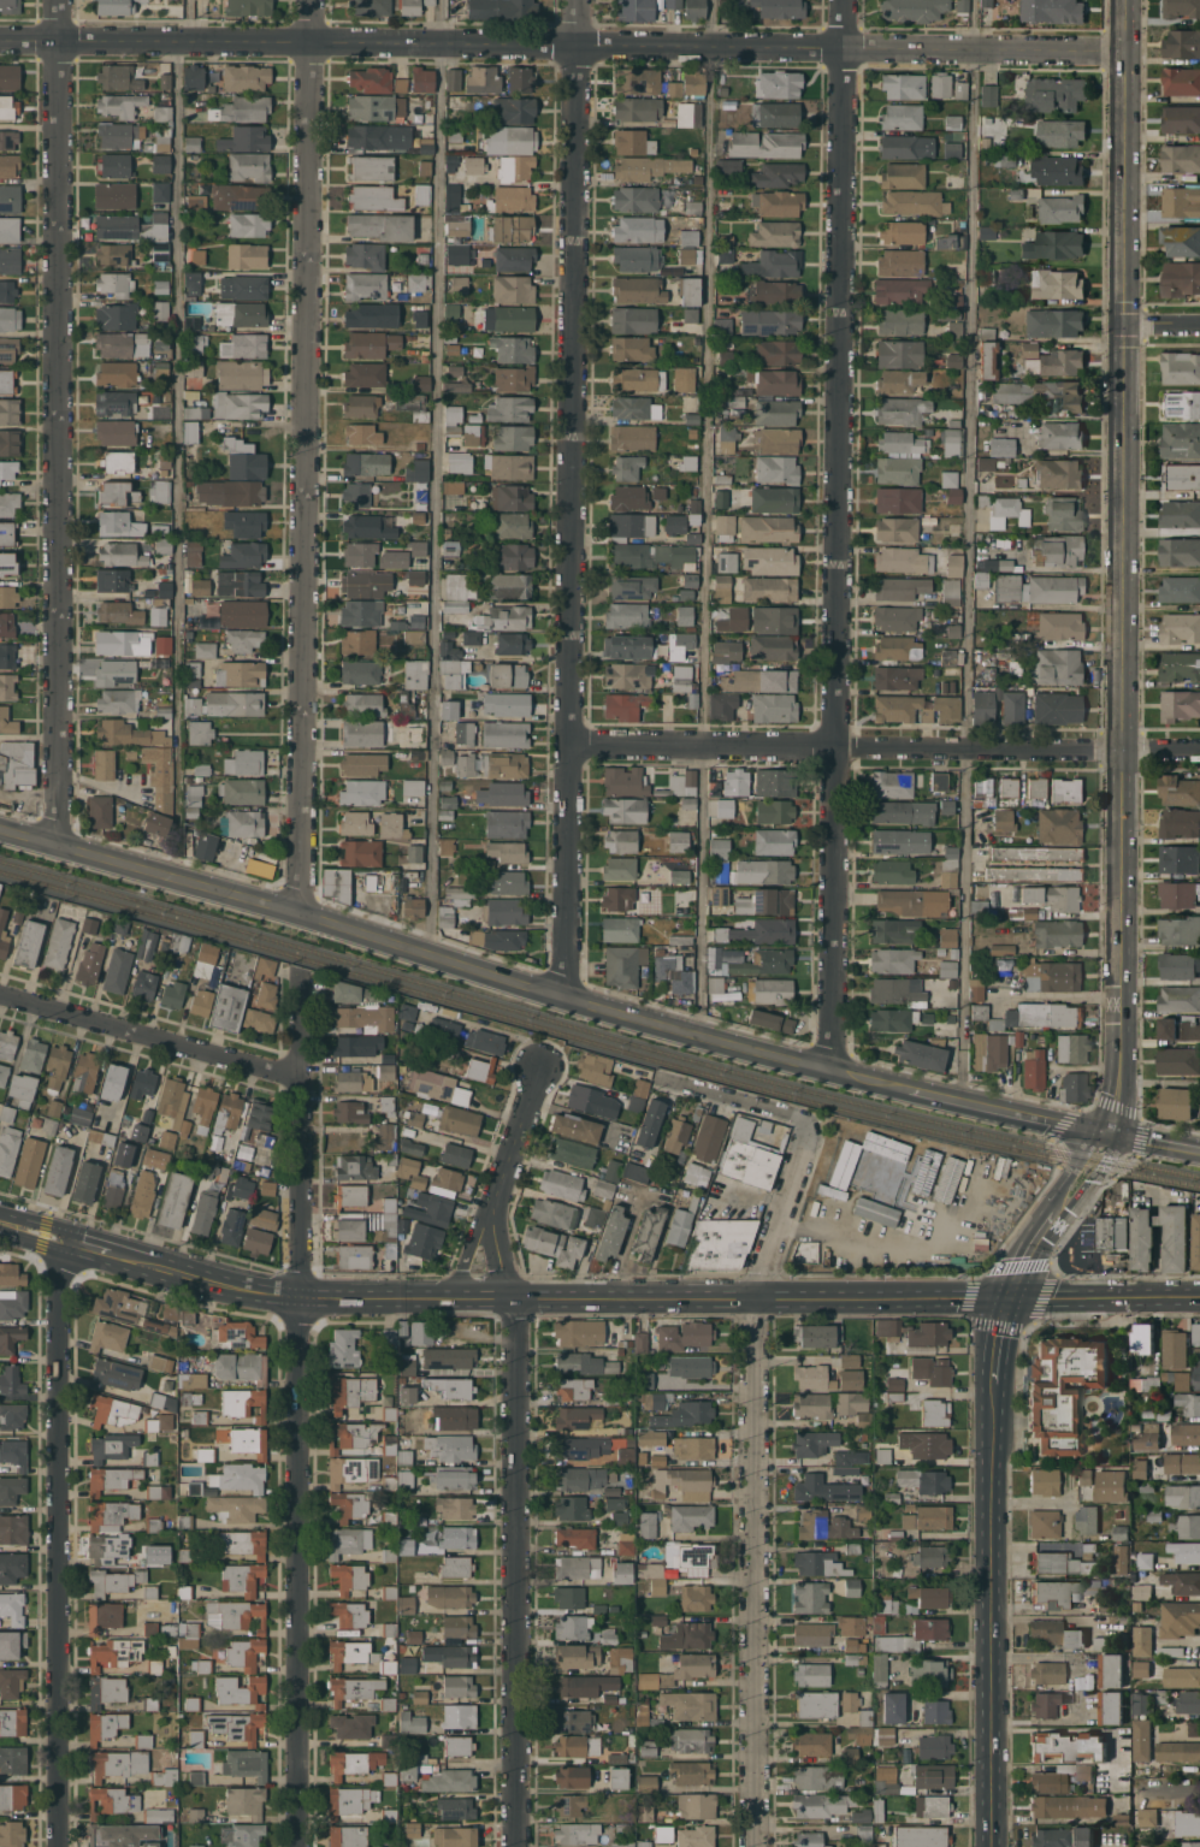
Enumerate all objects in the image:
building: (143, 0)
building: (428, 2)
building: (669, 4)
building: (678, 4)
building: (987, 4)
building: (10, 6)
building: (114, 6)
building: (410, 6)
building: (962, 6)
building: (248, 7)
building: (370, 7)
building: (780, 7)
building: (502, 8)
building: (694, 8)
building: (1181, 8)
building: (636, 10)
building: (912, 10)
building: (1052, 11)
road: (188, 20)
road: (442, 22)
road: (710, 25)
road: (976, 25)
building: (1182, 42)
road: (562, 46)
building: (10, 76)
building: (116, 76)
building: (193, 77)
building: (244, 77)
building: (422, 78)
building: (483, 78)
building: (165, 79)
building: (371, 79)
building: (454, 79)
building: (521, 79)
building: (638, 81)
building: (1181, 81)
building: (693, 83)
building: (778, 83)
building: (400, 84)
building: (940, 84)
building: (903, 85)
building: (674, 88)
building: (722, 89)
building: (960, 89)
building: (1054, 94)
building: (988, 95)
building: (427, 100)
building: (120, 103)
building: (727, 103)
building: (8, 107)
building: (376, 107)
building: (242, 108)
building: (637, 108)
building: (514, 109)
building: (162, 113)
building: (776, 113)
building: (688, 114)
building: (902, 116)
building: (1181, 119)
building: (953, 122)
building: (1059, 132)
building: (119, 134)
building: (455, 135)
building: (379, 136)
building: (7, 138)
building: (244, 138)
building: (516, 141)
building: (632, 142)
building: (985, 142)
building: (158, 143)
building: (191, 143)
building: (765, 143)
building: (426, 144)
building: (909, 146)
building: (952, 149)
building: (1005, 158)
building: (1181, 158)
building: (160, 162)
building: (451, 162)
building: (8, 164)
building: (114, 165)
building: (473, 165)
building: (729, 165)
building: (249, 166)
building: (371, 167)
building: (425, 167)
building: (514, 167)
building: (648, 167)
building: (1058, 170)
building: (776, 174)
building: (903, 174)
building: (160, 191)
building: (422, 194)
building: (1016, 194)
building: (114, 195)
building: (238, 196)
building: (373, 197)
building: (453, 197)
building: (10, 199)
building: (510, 199)
building: (636, 199)
building: (911, 201)
building: (1181, 201)
building: (196, 202)
building: (693, 202)
building: (779, 202)
building: (1060, 207)
building: (932, 220)
building: (248, 224)
building: (380, 225)
building: (132, 226)
building: (457, 227)
building: (510, 227)
building: (10, 229)
building: (634, 229)
building: (903, 231)
building: (987, 232)
building: (775, 233)
building: (688, 237)
building: (725, 239)
building: (1181, 239)
building: (951, 241)
building: (1054, 244)
building: (160, 250)
building: (454, 251)
building: (114, 254)
building: (194, 254)
building: (725, 254)
building: (247, 255)
building: (365, 255)
building: (686, 255)
building: (422, 257)
building: (514, 257)
building: (636, 257)
building: (10, 260)
building: (774, 262)
building: (900, 262)
building: (1181, 279)
building: (193, 282)
building: (419, 282)
building: (114, 283)
building: (459, 284)
building: (1056, 284)
building: (161, 285)
building: (365, 285)
building: (244, 286)
building: (512, 289)
building: (638, 289)
building: (7, 290)
building: (688, 290)
building: (899, 290)
building: (776, 292)
building: (953, 301)
building: (160, 310)
building: (451, 312)
building: (241, 314)
building: (690, 314)
building: (116, 315)
building: (372, 315)
building: (420, 318)
building: (509, 318)
building: (10, 319)
building: (633, 319)
building: (769, 321)
building: (900, 321)
building: (1053, 321)
building: (191, 322)
building: (722, 326)
road: (1161, 326)
building: (954, 328)
traffic signals: (1124, 328)
building: (987, 332)
building: (450, 337)
building: (161, 341)
building: (196, 343)
building: (123, 344)
building: (370, 344)
building: (244, 345)
building: (8, 348)
building: (453, 348)
building: (512, 348)
building: (632, 348)
building: (1028, 349)
building: (776, 351)
building: (899, 353)
building: (425, 355)
building: (725, 357)
building: (953, 360)
building: (987, 360)
building: (1056, 362)
building: (1180, 367)
building: (195, 368)
building: (454, 369)
building: (159, 371)
building: (117, 373)
building: (241, 374)
building: (365, 374)
building: (513, 378)
building: (639, 378)
building: (684, 379)
building: (899, 380)
building: (7, 381)
building: (421, 381)
building: (774, 381)
building: (456, 386)
building: (389, 395)
building: (1040, 395)
building: (478, 397)
road: (705, 397)
building: (737, 401)
road: (970, 401)
building: (114, 403)
building: (238, 404)
building: (361, 404)
building: (413, 404)
building: (1183, 404)
building: (631, 407)
building: (509, 408)
building: (776, 410)
building: (902, 410)
building: (10, 412)
building: (196, 412)
building: (453, 414)
building: (474, 416)
building: (692, 418)
road: (57, 421)
building: (953, 422)
building: (116, 431)
building: (191, 431)
building: (362, 433)
building: (473, 434)
building: (1060, 434)
building: (951, 436)
building: (453, 437)
building: (513, 437)
building: (631, 437)
building: (727, 438)
building: (778, 439)
building: (904, 440)
building: (1181, 440)
building: (10, 442)
building: (1001, 446)
road: (306, 456)
building: (243, 458)
building: (165, 460)
road: (177, 460)
building: (117, 462)
building: (459, 462)
building: (687, 462)
building: (366, 463)
building: (986, 463)
building: (1000, 463)
building: (509, 466)
building: (627, 467)
building: (7, 468)
building: (776, 468)
building: (420, 469)
building: (898, 469)
building: (164, 472)
building: (1059, 473)
building: (1181, 476)
building: (722, 478)
building: (948, 478)
building: (1021, 481)
building: (449, 486)
building: (159, 491)
building: (384, 491)
building: (117, 492)
building: (230, 492)
building: (356, 493)
building: (952, 495)
building: (512, 497)
road: (575, 497)
building: (628, 497)
road: (435, 498)
building: (720, 498)
building: (774, 499)
building: (898, 499)
building: (983, 499)
building: (8, 503)
building: (694, 505)
building: (1007, 511)
building: (1062, 513)
building: (1180, 514)
building: (418, 517)
building: (693, 519)
building: (244, 522)
building: (119, 523)
building: (512, 525)
building: (632, 525)
building: (366, 526)
building: (725, 526)
building: (679, 527)
building: (159, 528)
building: (767, 528)
building: (897, 528)
road: (1121, 531)
building: (197, 532)
building: (7, 533)
road: (833, 533)
building: (619, 538)
building: (164, 544)
building: (416, 547)
building: (450, 547)
building: (1057, 550)
building: (1180, 551)
building: (194, 552)
building: (359, 552)
building: (120, 553)
building: (243, 553)
building: (651, 555)
building: (512, 556)
building: (394, 558)
building: (770, 560)
building: (903, 560)
building: (953, 561)
building: (727, 562)
building: (7, 563)
building: (998, 563)
building: (415, 576)
building: (113, 579)
building: (690, 580)
building: (981, 580)
building: (240, 582)
building: (365, 582)
building: (504, 585)
building: (632, 585)
building: (200, 586)
building: (164, 587)
building: (459, 587)
building: (722, 587)
building: (902, 587)
building: (769, 588)
building: (1038, 588)
building: (1180, 588)
building: (951, 591)
building: (686, 593)
building: (8, 596)
building: (455, 605)
building: (158, 610)
building: (119, 611)
building: (242, 612)
building: (361, 612)
building: (626, 615)
building: (685, 615)
building: (504, 617)
building: (897, 617)
building: (774, 618)
building: (733, 620)
building: (415, 621)
building: (7, 623)
building: (396, 623)
building: (1059, 624)
building: (1180, 628)
building: (952, 629)
building: (448, 634)
building: (414, 635)
building: (472, 637)
building: (243, 639)
building: (357, 640)
building: (122, 641)
building: (512, 643)
building: (162, 644)
building: (680, 644)
building: (629, 646)
building: (773, 646)
building: (897, 647)
building: (205, 649)
building: (449, 650)
building: (726, 650)
building: (995, 652)
building: (7, 655)
building: (948, 657)
building: (1056, 665)
building: (1180, 665)
building: (360, 670)
building: (114, 671)
building: (936, 671)
building: (191, 673)
building: (240, 673)
building: (454, 673)
building: (415, 674)
building: (507, 674)
building: (988, 674)
building: (632, 675)
building: (894, 676)
building: (681, 677)
building: (761, 680)
building: (7, 686)
building: (952, 686)
building: (118, 699)
building: (692, 700)
building: (234, 703)
building: (407, 703)
building: (504, 703)
building: (362, 704)
building: (1180, 704)
building: (193, 705)
building: (623, 705)
building: (723, 705)
building: (773, 706)
building: (164, 708)
building: (1057, 708)
building: (449, 709)
building: (894, 709)
building: (1013, 710)
building: (392, 715)
building: (7, 721)
building: (445, 726)
building: (414, 729)
building: (199, 732)
building: (366, 732)
building: (465, 732)
building: (126, 733)
building: (504, 733)
road: (887, 748)
building: (131, 753)
building: (418, 753)
building: (445, 756)
building: (244, 762)
building: (17, 763)
building: (363, 763)
building: (104, 764)
building: (504, 764)
building: (461, 765)
building: (201, 769)
building: (160, 776)
building: (188, 780)
building: (625, 781)
building: (735, 781)
building: (775, 781)
building: (939, 781)
building: (714, 782)
building: (445, 783)
building: (679, 783)
building: (892, 783)
building: (413, 787)
building: (1009, 787)
building: (1036, 787)
building: (1065, 789)
building: (1178, 789)
building: (242, 791)
building: (362, 791)
building: (981, 791)
building: (507, 793)
building: (194, 794)
building: (484, 799)
building: (448, 800)
building: (1015, 801)
building: (687, 803)
building: (947, 806)
building: (723, 807)
building: (625, 809)
building: (774, 810)
building: (100, 811)
building: (191, 811)
building: (904, 811)
building: (445, 813)
building: (1004, 819)
building: (244, 822)
building: (1180, 822)
building: (156, 823)
building: (356, 823)
building: (507, 823)
building: (391, 825)
building: (1058, 825)
building: (207, 839)
building: (621, 840)
building: (774, 840)
building: (899, 840)
building: (678, 841)
building: (447, 846)
building: (719, 846)
building: (507, 851)
building: (361, 852)
building: (414, 852)
building: (950, 852)
building: (1035, 852)
building: (1180, 859)
building: (486, 863)
building: (619, 868)
building: (752, 871)
building: (892, 871)
building: (338, 872)
building: (948, 872)
building: (1033, 872)
building: (679, 875)
building: (508, 882)
building: (336, 888)
road: (701, 889)
building: (459, 892)
building: (1177, 894)
building: (1052, 896)
building: (619, 898)
building: (457, 901)
building: (750, 901)
building: (914, 901)
building: (413, 906)
building: (979, 906)
building: (1001, 910)
building: (503, 911)
building: (992, 911)
building: (1022, 912)
building: (18, 913)
building: (445, 916)
road: (963, 924)
building: (89, 925)
building: (120, 925)
building: (620, 928)
building: (894, 929)
building: (758, 930)
building: (1180, 930)
building: (4, 933)
building: (1057, 933)
building: (947, 937)
building: (503, 939)
building: (680, 939)
building: (58, 942)
building: (28, 943)
building: (164, 943)
building: (147, 945)
building: (177, 946)
road: (413, 948)
building: (1001, 948)
building: (207, 953)
building: (715, 953)
building: (953, 953)
building: (893, 959)
building: (1004, 960)
building: (763, 961)
building: (623, 964)
building: (1178, 965)
building: (947, 969)
building: (88, 970)
building: (117, 970)
building: (261, 971)
building: (673, 972)
building: (1051, 975)
building: (715, 984)
building: (144, 985)
building: (976, 985)
building: (770, 990)
building: (895, 990)
building: (354, 991)
building: (173, 994)
building: (266, 994)
building: (1180, 999)
building: (201, 1002)
building: (229, 1007)
building: (407, 1011)
building: (1025, 1014)
building: (363, 1016)
building: (927, 1017)
building: (950, 1018)
building: (258, 1019)
building: (893, 1019)
building: (772, 1020)
building: (445, 1029)
building: (1178, 1029)
railway: (596, 1031)
road: (148, 1034)
building: (1019, 1038)
building: (485, 1041)
railway: (596, 1042)
building: (7, 1043)
building: (350, 1046)
building: (1071, 1047)
building: (447, 1048)
building: (995, 1050)
building: (32, 1054)
building: (920, 1054)
building: (386, 1058)
building: (1178, 1060)
building: (57, 1066)
building: (477, 1068)
building: (595, 1068)
building: (1034, 1068)
building: (85, 1071)
building: (386, 1071)
building: (4, 1073)
building: (113, 1081)
building: (353, 1081)
building: (142, 1083)
building: (435, 1085)
building: (639, 1087)
building: (1074, 1087)
building: (22, 1088)
road: (738, 1097)
road: (1116, 1097)
building: (173, 1100)
building: (586, 1100)
building: (637, 1101)
road: (966, 1101)
building: (1176, 1102)
building: (388, 1103)
building: (205, 1106)
road: (1086, 1106)
building: (54, 1107)
building: (227, 1112)
building: (350, 1112)
building: (7, 1113)
building: (79, 1114)
building: (259, 1114)
building: (147, 1115)
road: (1134, 1115)
building: (445, 1119)
building: (650, 1121)
road: (1062, 1124)
building: (49, 1125)
road: (1170, 1125)
building: (184, 1126)
building: (574, 1126)
building: (764, 1126)
building: (138, 1131)
building: (408, 1131)
traffic signals: (1106, 1131)
building: (675, 1135)
building: (101, 1136)
building: (708, 1137)
building: (167, 1138)
building: (383, 1138)
road: (1153, 1138)
building: (265, 1139)
road: (297, 1142)
building: (410, 1147)
building: (8, 1148)
building: (573, 1152)
building: (455, 1154)
building: (129, 1155)
building: (746, 1156)
building: (156, 1158)
building: (391, 1158)
building: (895, 1160)
building: (29, 1162)
building: (354, 1167)
building: (843, 1167)
building: (208, 1168)
building: (57, 1170)
building: (613, 1170)
building: (389, 1171)
building: (410, 1171)
road: (1081, 1171)
building: (636, 1172)
building: (924, 1172)
building: (696, 1173)
building: (447, 1178)
building: (85, 1182)
building: (562, 1184)
building: (240, 1186)
building: (267, 1188)
building: (603, 1188)
building: (113, 1189)
building: (944, 1190)
building: (832, 1191)
building: (143, 1194)
building: (351, 1194)
building: (175, 1198)
building: (605, 1203)
building: (389, 1204)
road: (1086, 1207)
building: (431, 1208)
road: (1030, 1208)
building: (874, 1210)
building: (203, 1212)
building: (567, 1215)
building: (262, 1218)
building: (681, 1223)
building: (402, 1224)
building: (232, 1226)
building: (348, 1226)
building: (1112, 1226)
building: (385, 1227)
road: (31, 1231)
building: (648, 1231)
building: (611, 1232)
building: (1176, 1235)
building: (256, 1239)
building: (424, 1239)
road: (879, 1241)
building: (1196, 1241)
building: (1112, 1242)
building: (720, 1243)
building: (554, 1244)
road: (627, 1244)
road: (85, 1245)
building: (390, 1249)
road: (469, 1249)
road: (1024, 1251)
building: (353, 1255)
building: (11, 1274)
road: (1125, 1274)
road: (971, 1291)
road: (1042, 1296)
road: (1101, 1296)
road: (877, 1297)
traffic signals: (1004, 1297)
road: (426, 1301)
building: (12, 1303)
building: (118, 1304)
building: (170, 1310)
building: (185, 1315)
road: (1116, 1319)
building: (160, 1325)
building: (888, 1327)
building: (416, 1330)
building: (579, 1331)
building: (928, 1333)
building: (1196, 1333)
building: (235, 1334)
building: (684, 1334)
building: (816, 1334)
building: (107, 1336)
building: (389, 1336)
building: (10, 1337)
building: (1143, 1338)
road: (994, 1340)
building: (625, 1342)
building: (642, 1343)
building: (343, 1348)
building: (1174, 1348)
building: (620, 1350)
building: (457, 1357)
building: (850, 1361)
building: (156, 1362)
building: (583, 1363)
building: (241, 1366)
building: (407, 1366)
building: (691, 1366)
building: (1196, 1368)
building: (932, 1369)
building: (114, 1373)
building: (814, 1377)
building: (850, 1378)
building: (11, 1379)
building: (193, 1379)
building: (644, 1379)
building: (1178, 1379)
building: (894, 1383)
building: (658, 1384)
building: (1146, 1384)
building: (451, 1386)
building: (573, 1387)
building: (1062, 1390)
building: (350, 1391)
building: (407, 1393)
building: (1171, 1395)
building: (188, 1397)
building: (891, 1397)
building: (610, 1398)
building: (651, 1399)
building: (162, 1401)
building: (244, 1402)
building: (851, 1402)
building: (1189, 1402)
building: (811, 1404)
building: (389, 1407)
building: (113, 1410)
building: (935, 1411)
building: (684, 1414)
building: (1158, 1414)
building: (12, 1415)
building: (200, 1416)
building: (575, 1416)
building: (455, 1417)
building: (1178, 1417)
building: (863, 1420)
building: (158, 1422)
building: (1136, 1426)
building: (408, 1428)
building: (623, 1429)
building: (1184, 1433)
building: (351, 1434)
building: (1148, 1437)
building: (247, 1440)
building: (814, 1442)
building: (389, 1444)
building: (926, 1444)
building: (111, 1445)
building: (449, 1446)
building: (693, 1446)
building: (591, 1448)
building: (640, 1448)
road: (516, 1451)
building: (14, 1452)
building: (203, 1454)
building: (883, 1455)
building: (404, 1456)
building: (850, 1456)
building: (149, 1457)
building: (1182, 1462)
building: (350, 1469)
building: (846, 1469)
building: (1140, 1469)
building: (1084, 1475)
building: (240, 1476)
building: (453, 1476)
building: (574, 1476)
building: (110, 1478)
road: (752, 1479)
building: (923, 1480)
building: (406, 1481)
building: (1044, 1481)
building: (389, 1482)
building: (684, 1482)
building: (1110, 1485)
building: (1147, 1486)
building: (195, 1487)
building: (11, 1488)
building: (826, 1488)
building: (611, 1490)
building: (158, 1491)
building: (1183, 1496)
building: (892, 1497)
building: (615, 1502)
building: (350, 1504)
building: (236, 1506)
building: (455, 1506)
building: (910, 1506)
building: (572, 1508)
building: (862, 1512)
building: (111, 1514)
building: (1154, 1515)
building: (688, 1516)
building: (389, 1517)
building: (619, 1517)
building: (928, 1517)
building: (1086, 1519)
building: (185, 1521)
building: (1044, 1523)
building: (153, 1525)
building: (648, 1525)
building: (824, 1525)
building: (1189, 1526)
building: (13, 1528)
building: (1119, 1532)
building: (430, 1534)
building: (895, 1534)
building: (457, 1537)
building: (574, 1537)
building: (347, 1540)
building: (242, 1541)
road: (58, 1543)
building: (626, 1545)
building: (406, 1546)
building: (1088, 1546)
building: (107, 1547)
building: (852, 1547)
building: (1184, 1551)
building: (184, 1555)
building: (389, 1555)
building: (930, 1556)
building: (153, 1558)
building: (693, 1558)
building: (1122, 1559)
building: (1145, 1559)
building: (1054, 1562)
building: (818, 1563)
building: (12, 1565)
building: (456, 1565)
building: (577, 1567)
building: (650, 1569)
building: (621, 1571)
road: (301, 1573)
building: (348, 1576)
building: (241, 1577)
building: (113, 1580)
building: (1109, 1581)
building: (1182, 1581)
building: (1140, 1585)
building: (657, 1586)
building: (852, 1587)
building: (1094, 1587)
building: (149, 1591)
building: (389, 1591)
building: (184, 1592)
building: (1056, 1593)
building: (449, 1596)
building: (929, 1596)
building: (569, 1597)
building: (694, 1597)
building: (809, 1597)
building: (882, 1602)
building: (184, 1604)
building: (407, 1604)
building: (1137, 1605)
building: (12, 1606)
building: (614, 1608)
building: (598, 1609)
building: (235, 1615)
building: (348, 1615)
building: (102, 1616)
road: (989, 1616)
building: (1178, 1618)
building: (658, 1620)
building: (879, 1623)
building: (851, 1624)
building: (459, 1626)
building: (569, 1627)
building: (159, 1628)
building: (191, 1628)
building: (389, 1628)
building: (642, 1633)
building: (812, 1633)
building: (1056, 1633)
building: (694, 1634)
building: (414, 1635)
building: (608, 1635)
building: (914, 1635)
building: (1123, 1639)
building: (191, 1640)
building: (1142, 1640)
building: (11, 1642)
building: (1101, 1642)
building: (850, 1644)
building: (1171, 1651)
building: (114, 1652)
building: (244, 1652)
building: (350, 1652)
building: (450, 1654)
building: (575, 1656)
building: (620, 1658)
building: (850, 1658)
building: (389, 1663)
building: (407, 1664)
building: (154, 1665)
building: (205, 1665)
building: (880, 1669)
building: (680, 1670)
building: (1111, 1670)
building: (929, 1671)
building: (1048, 1671)
building: (811, 1674)
building: (1164, 1675)
building: (11, 1681)
building: (167, 1685)
building: (585, 1685)
building: (457, 1686)
building: (354, 1688)
building: (106, 1689)
building: (241, 1691)
building: (420, 1695)
building: (609, 1697)
building: (1161, 1697)
building: (849, 1700)
building: (1142, 1701)
building: (1188, 1701)
building: (150, 1703)
building: (193, 1703)
building: (388, 1703)
building: (690, 1704)
building: (815, 1704)
building: (1045, 1704)
building: (893, 1706)
building: (1111, 1707)
building: (936, 1711)
building: (643, 1715)
building: (459, 1716)
building: (864, 1717)
building: (571, 1719)
building: (13, 1721)
building: (412, 1722)
building: (351, 1724)
building: (105, 1725)
building: (237, 1725)
building: (1194, 1728)
building: (859, 1734)
building: (883, 1735)
building: (196, 1738)
building: (692, 1739)
building: (143, 1740)
building: (388, 1740)
building: (1142, 1740)
building: (812, 1742)
building: (459, 1745)
building: (578, 1745)
building: (933, 1746)
building: (1068, 1746)
building: (648, 1748)
building: (1177, 1751)
building: (850, 1753)
building: (422, 1758)
building: (616, 1758)
building: (13, 1759)
building: (355, 1762)
building: (118, 1763)
building: (246, 1763)
building: (407, 1772)
building: (691, 1772)
building: (885, 1772)
building: (1083, 1772)
building: (932, 1775)
building: (164, 1776)
building: (572, 1776)
building: (817, 1776)
building: (196, 1777)
building: (389, 1777)
building: (617, 1777)
building: (450, 1780)
building: (1048, 1781)
building: (646, 1783)
building: (885, 1787)
road: (1169, 1790)
building: (13, 1796)
building: (416, 1798)
building: (112, 1800)
building: (244, 1800)
building: (350, 1800)
building: (622, 1800)
building: (571, 1804)
building: (823, 1804)
building: (696, 1805)
building: (935, 1806)
building: (1069, 1806)
building: (455, 1807)
building: (877, 1810)
building: (644, 1812)
building: (196, 1813)
building: (158, 1815)
building: (389, 1815)
building: (861, 1815)
building: (1137, 1817)
building: (1187, 1823)
building: (620, 1827)
building: (413, 1830)
building: (577, 1833)
building: (864, 1833)
building: (12, 1834)
building: (114, 1834)
building: (242, 1834)
building: (663, 1834)
building: (348, 1835)
building: (454, 1836)
building: (696, 1836)
building: (921, 1836)
building: (1063, 1837)
building: (809, 1839)
building: (1113, 1840)
building: (622, 1843)
building: (643, 1843)
building: (1190, 1843)
building: (195, 1845)
building: (879, 1845)
building: (149, 1846)
building: (389, 1846)

